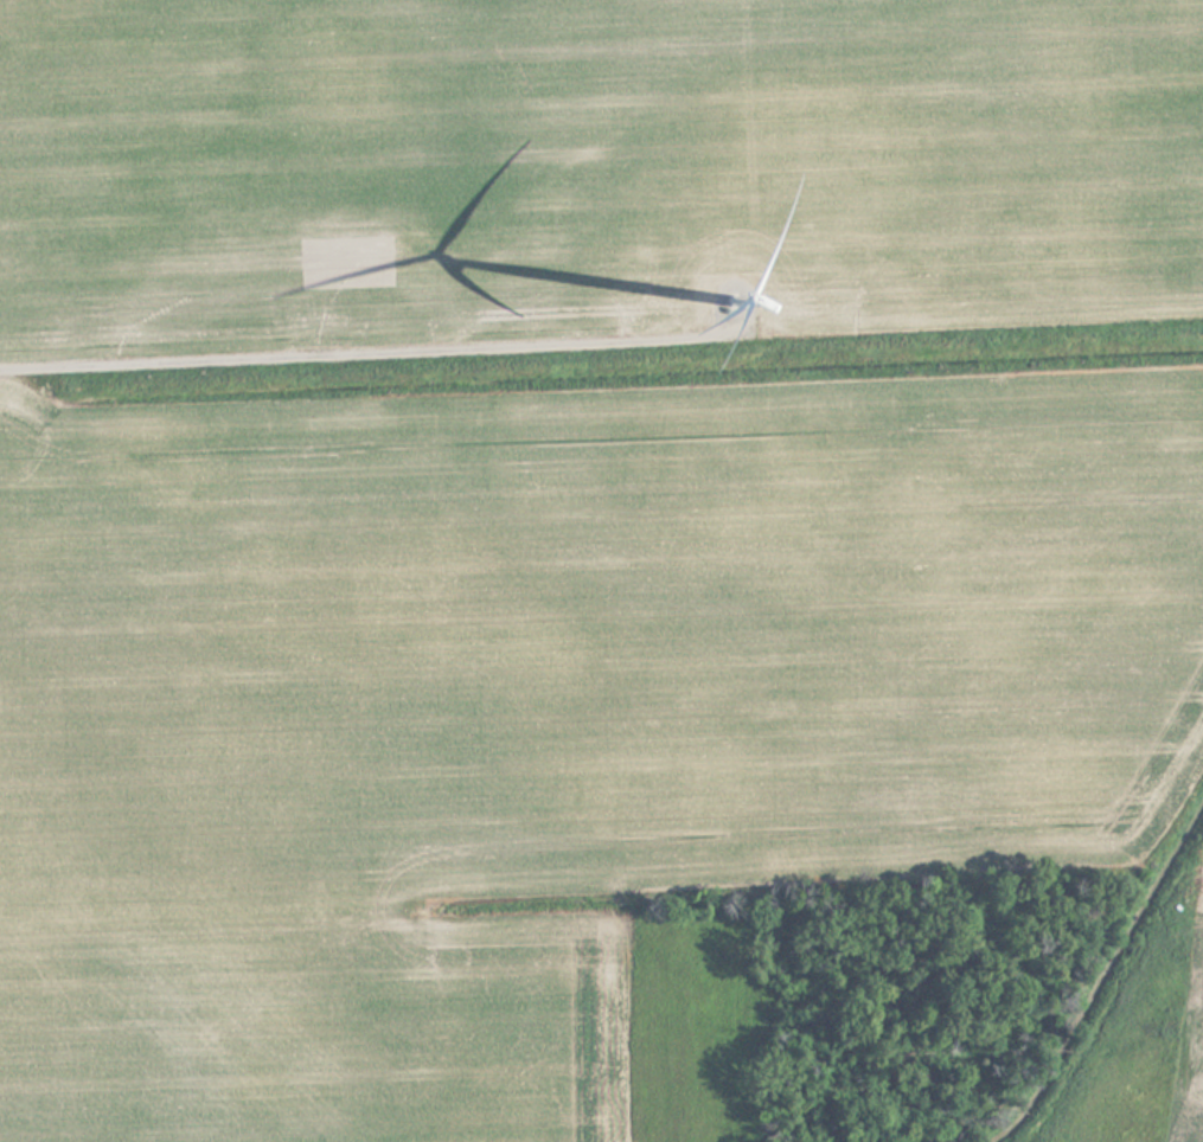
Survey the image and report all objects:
wind turbine: (749, 297)

